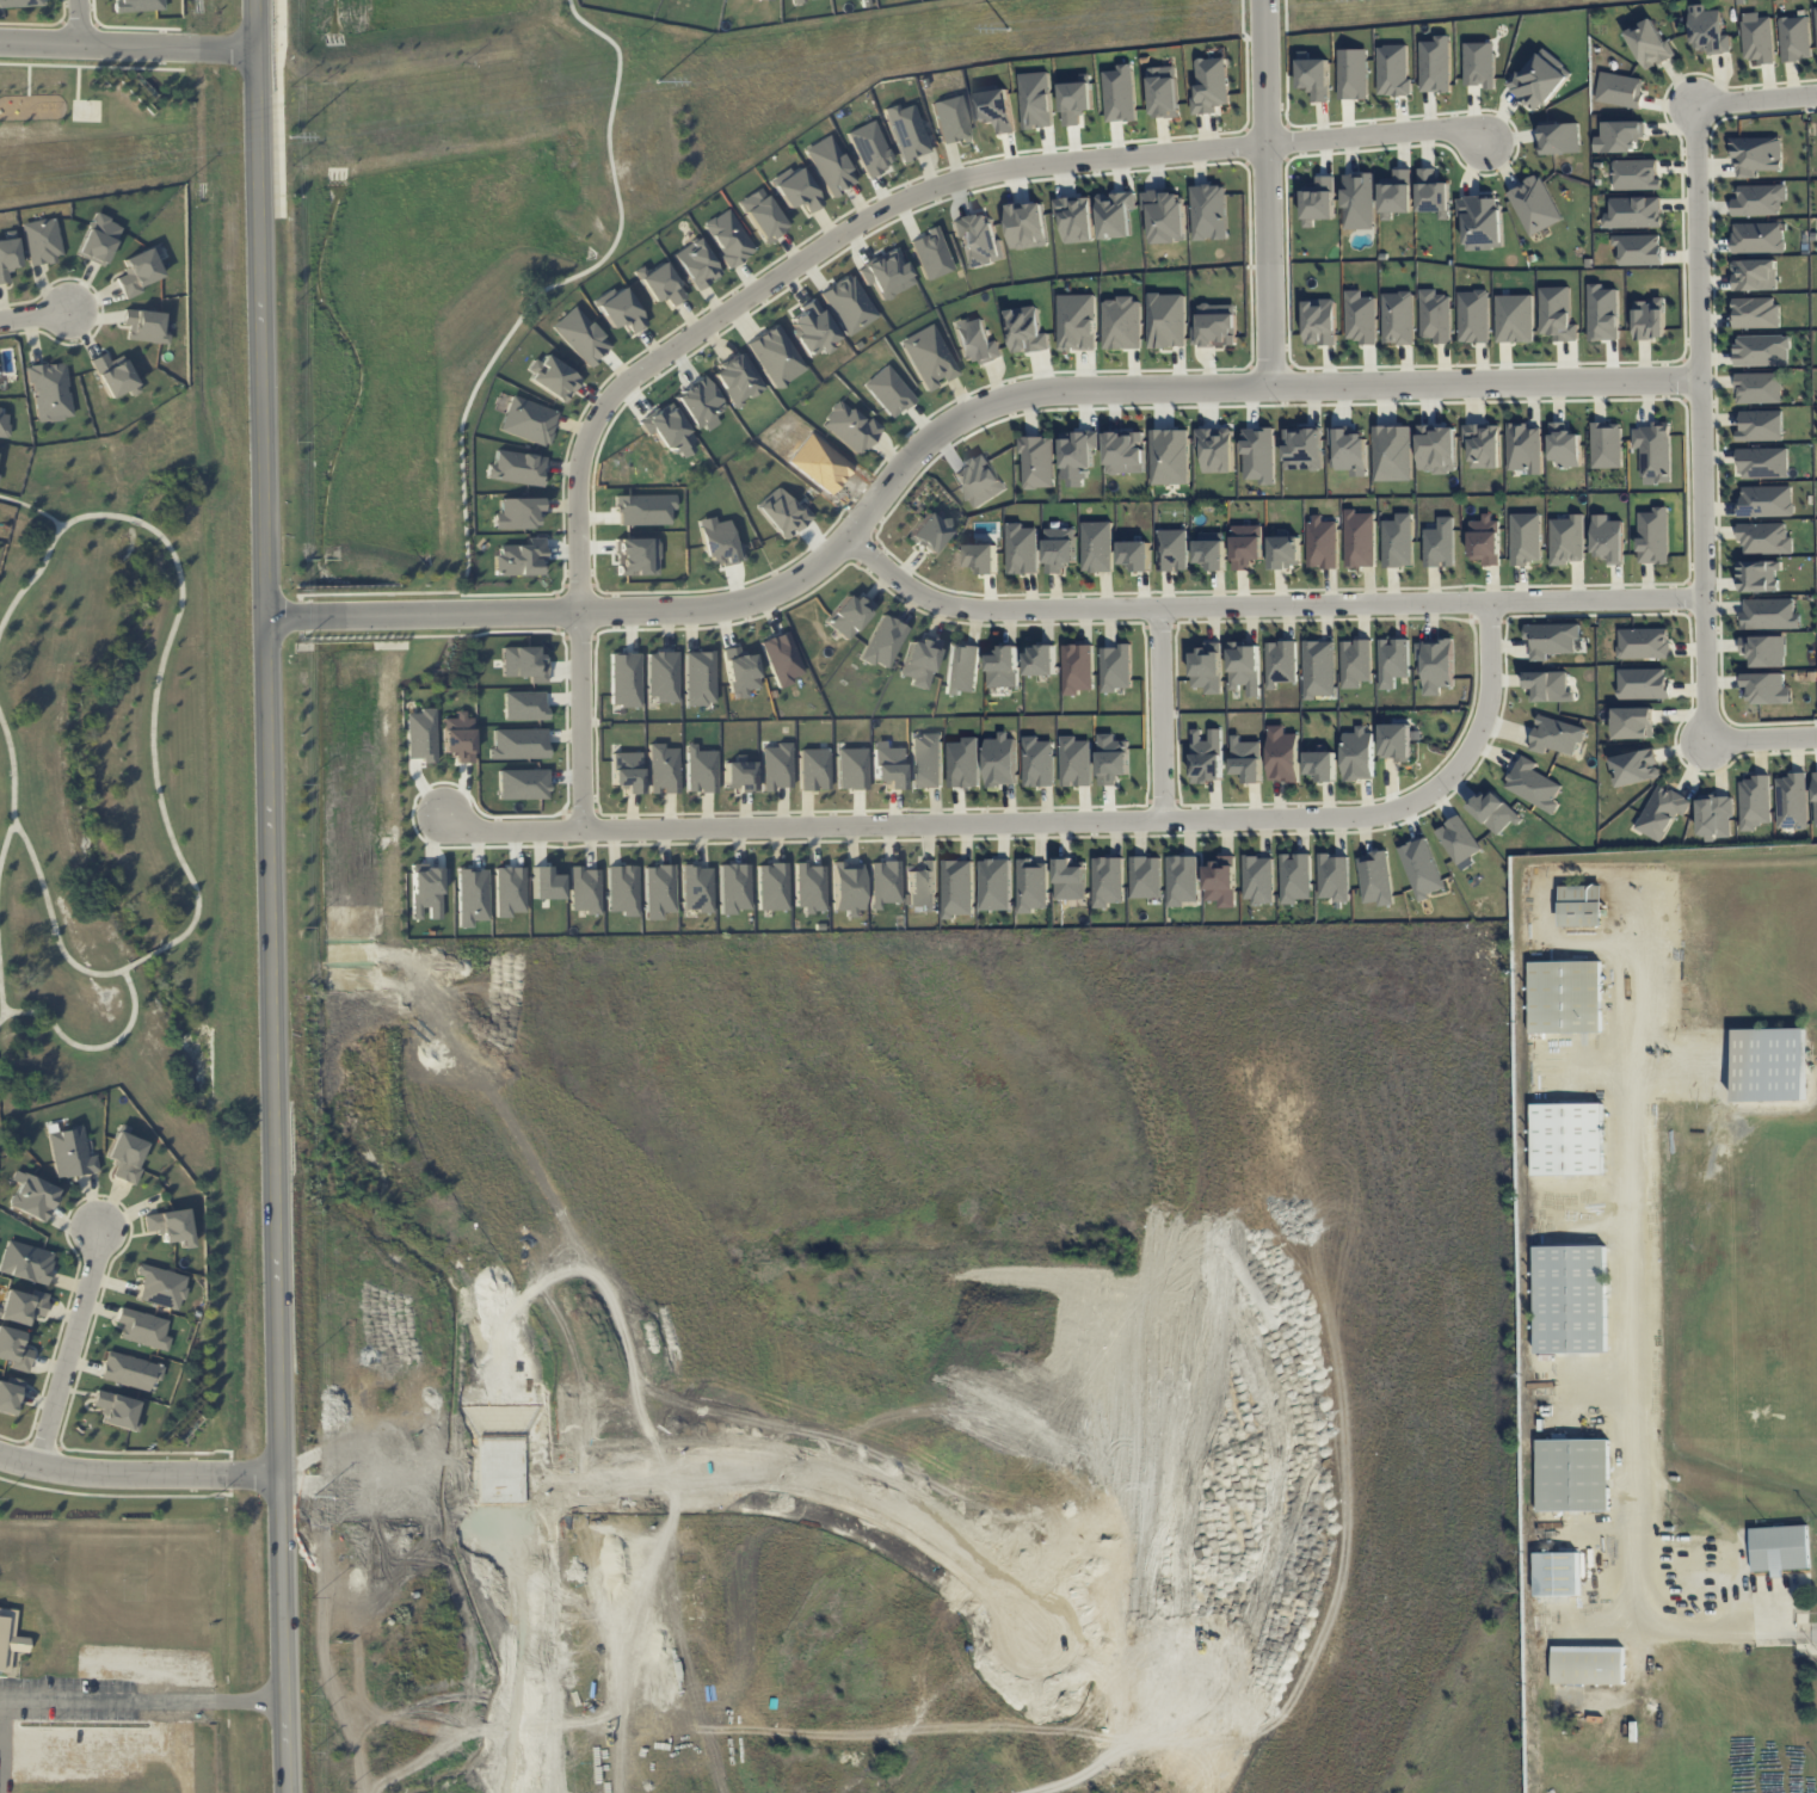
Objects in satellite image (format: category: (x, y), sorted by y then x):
building: (769, 0)
building: (795, 0)
building: (20, 2)
building: (1816, 13)
road: (80, 23)
power tower: (1008, 30)
building: (1707, 31)
building: (1757, 38)
building: (1794, 38)
building: (1649, 43)
road: (127, 47)
building: (1435, 64)
building: (1479, 64)
building: (1392, 69)
building: (1353, 74)
building: (1314, 78)
building: (1539, 80)
power tower: (655, 82)
building: (1211, 85)
building: (1619, 90)
building: (1164, 92)
building: (1120, 94)
road: (1756, 97)
building: (1076, 99)
building: (1036, 100)
building: (996, 109)
building: (951, 119)
building: (906, 131)
building: (1619, 136)
power tower: (290, 137)
building: (1559, 137)
building: (869, 147)
building: (1756, 155)
building: (830, 165)
building: (1636, 174)
building: (795, 189)
road: (1269, 192)
building: (1433, 192)
building: (1397, 193)
building: (1319, 199)
building: (1759, 199)
building: (1357, 201)
building: (1534, 205)
building: (1209, 212)
building: (1633, 212)
building: (1116, 214)
building: (762, 215)
building: (1165, 215)
building: (1076, 218)
building: (1482, 222)
building: (1027, 226)
building: (728, 238)
building: (979, 238)
building: (1757, 238)
building: (98, 239)
building: (42, 240)
road: (819, 248)
building: (1638, 249)
building: (931, 253)
building: (7, 258)
building: (696, 264)
building: (138, 271)
building: (886, 273)
building: (1754, 275)
building: (659, 283)
building: (848, 304)
building: (620, 309)
building: (1602, 313)
building: (1756, 313)
road: (33, 314)
building: (1557, 314)
building: (1435, 315)
building: (1473, 316)
building: (1360, 318)
building: (1398, 318)
building: (1514, 318)
building: (1650, 319)
building: (1166, 320)
building: (1320, 321)
building: (1077, 322)
building: (1121, 322)
building: (143, 325)
building: (1215, 326)
building: (812, 328)
building: (1025, 329)
building: (580, 335)
building: (975, 340)
road: (506, 343)
building: (1762, 350)
building: (775, 356)
building: (928, 357)
building: (113, 375)
building: (554, 377)
building: (737, 378)
building: (1759, 388)
building: (888, 390)
building: (50, 392)
building: (528, 420)
road: (1701, 420)
building: (4, 421)
road: (953, 425)
building: (1760, 426)
building: (850, 427)
building: (1606, 444)
building: (1483, 445)
building: (1564, 445)
building: (1525, 448)
building: (1217, 449)
building: (1304, 449)
building: (1436, 449)
building: (1349, 450)
building: (1653, 450)
building: (1125, 451)
building: (1392, 452)
building: (1259, 455)
building: (1170, 456)
building: (1078, 457)
building: (1037, 462)
building: (1763, 463)
building: (517, 468)
building: (980, 480)
building: (1766, 500)
building: (518, 512)
building: (782, 512)
building: (929, 532)
building: (1653, 536)
building: (1360, 538)
building: (1526, 538)
building: (1608, 538)
building: (1764, 538)
building: (1567, 540)
building: (1398, 541)
building: (1485, 541)
building: (719, 542)
building: (1323, 542)
building: (1440, 543)
building: (1097, 546)
building: (1246, 546)
building: (1022, 549)
building: (1059, 549)
building: (1172, 549)
building: (1285, 550)
building: (1212, 554)
building: (1135, 555)
building: (519, 557)
building: (981, 557)
building: (1759, 575)
road: (1268, 604)
building: (1769, 614)
building: (849, 615)
road: (171, 635)
building: (1551, 639)
building: (883, 641)
building: (1643, 643)
building: (1764, 649)
building: (781, 659)
building: (920, 660)
building: (1040, 660)
building: (1393, 661)
building: (1281, 663)
building: (1356, 663)
building: (1435, 665)
building: (1004, 667)
building: (1116, 667)
building: (1208, 667)
building: (1245, 667)
building: (962, 668)
building: (1077, 668)
building: (1319, 668)
building: (740, 671)
building: (661, 676)
building: (700, 677)
building: (624, 679)
building: (1643, 683)
building: (1548, 686)
building: (1766, 688)
road: (1164, 713)
building: (1632, 722)
building: (420, 735)
building: (1556, 735)
road: (1762, 738)
building: (1396, 741)
building: (1282, 754)
building: (1359, 754)
building: (1207, 756)
building: (1000, 759)
building: (1113, 759)
building: (1246, 759)
building: (925, 760)
building: (1037, 762)
building: (1074, 762)
building: (963, 763)
building: (1320, 765)
building: (776, 766)
building: (888, 766)
building: (851, 768)
building: (1634, 768)
building: (663, 769)
building: (813, 769)
building: (627, 770)
building: (700, 770)
building: (738, 776)
building: (1533, 784)
road: (16, 789)
building: (1815, 795)
building: (1791, 801)
building: (1754, 802)
building: (1493, 812)
building: (1662, 812)
building: (1714, 817)
road: (1042, 820)
building: (1458, 839)
building: (1422, 868)
building: (1146, 876)
building: (1295, 877)
building: (1334, 877)
building: (1376, 877)
building: (1258, 879)
building: (1070, 880)
building: (1182, 880)
building: (1108, 881)
building: (883, 882)
building: (1221, 882)
building: (996, 885)
building: (1033, 885)
building: (771, 886)
building: (923, 886)
building: (733, 887)
building: (809, 887)
building: (846, 887)
building: (696, 888)
building: (959, 888)
building: (584, 889)
building: (621, 889)
building: (658, 891)
road: (271, 895)
road: (54, 922)
road: (147, 955)
road: (1, 993)
building: (1565, 997)
road: (94, 1046)
building: (1769, 1064)
building: (1567, 1139)
building: (69, 1150)
building: (125, 1157)
building: (33, 1195)
road: (109, 1195)
road: (93, 1199)
road: (112, 1203)
road: (150, 1207)
road: (130, 1210)
road: (73, 1226)
building: (170, 1226)
building: (25, 1262)
road: (117, 1282)
building: (161, 1287)
building: (1570, 1299)
building: (21, 1306)
road: (101, 1307)
building: (142, 1329)
road: (1631, 1341)
road: (72, 1347)
building: (13, 1349)
road: (85, 1363)
building: (130, 1370)
road: (86, 1392)
building: (10, 1394)
building: (117, 1411)
road: (30, 1435)
road: (14, 1438)
road: (43, 1446)
road: (105, 1450)
road: (197, 1452)
road: (232, 1473)
building: (1572, 1474)
road: (138, 1475)
road: (116, 1495)
building: (1779, 1548)
building: (1557, 1573)
road: (1815, 1634)
building: (1587, 1665)
road: (142, 1699)
road: (1089, 1781)

